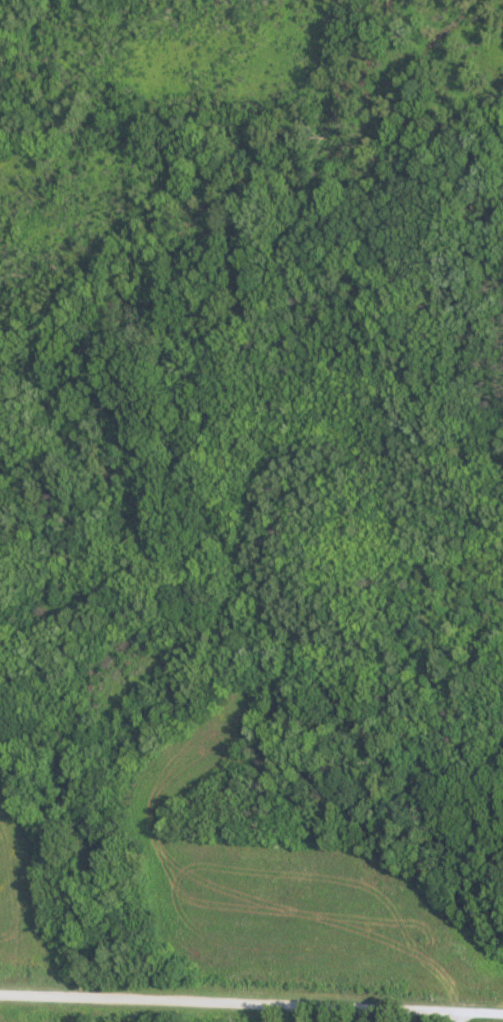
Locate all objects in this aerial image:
road: (251, 1008)

